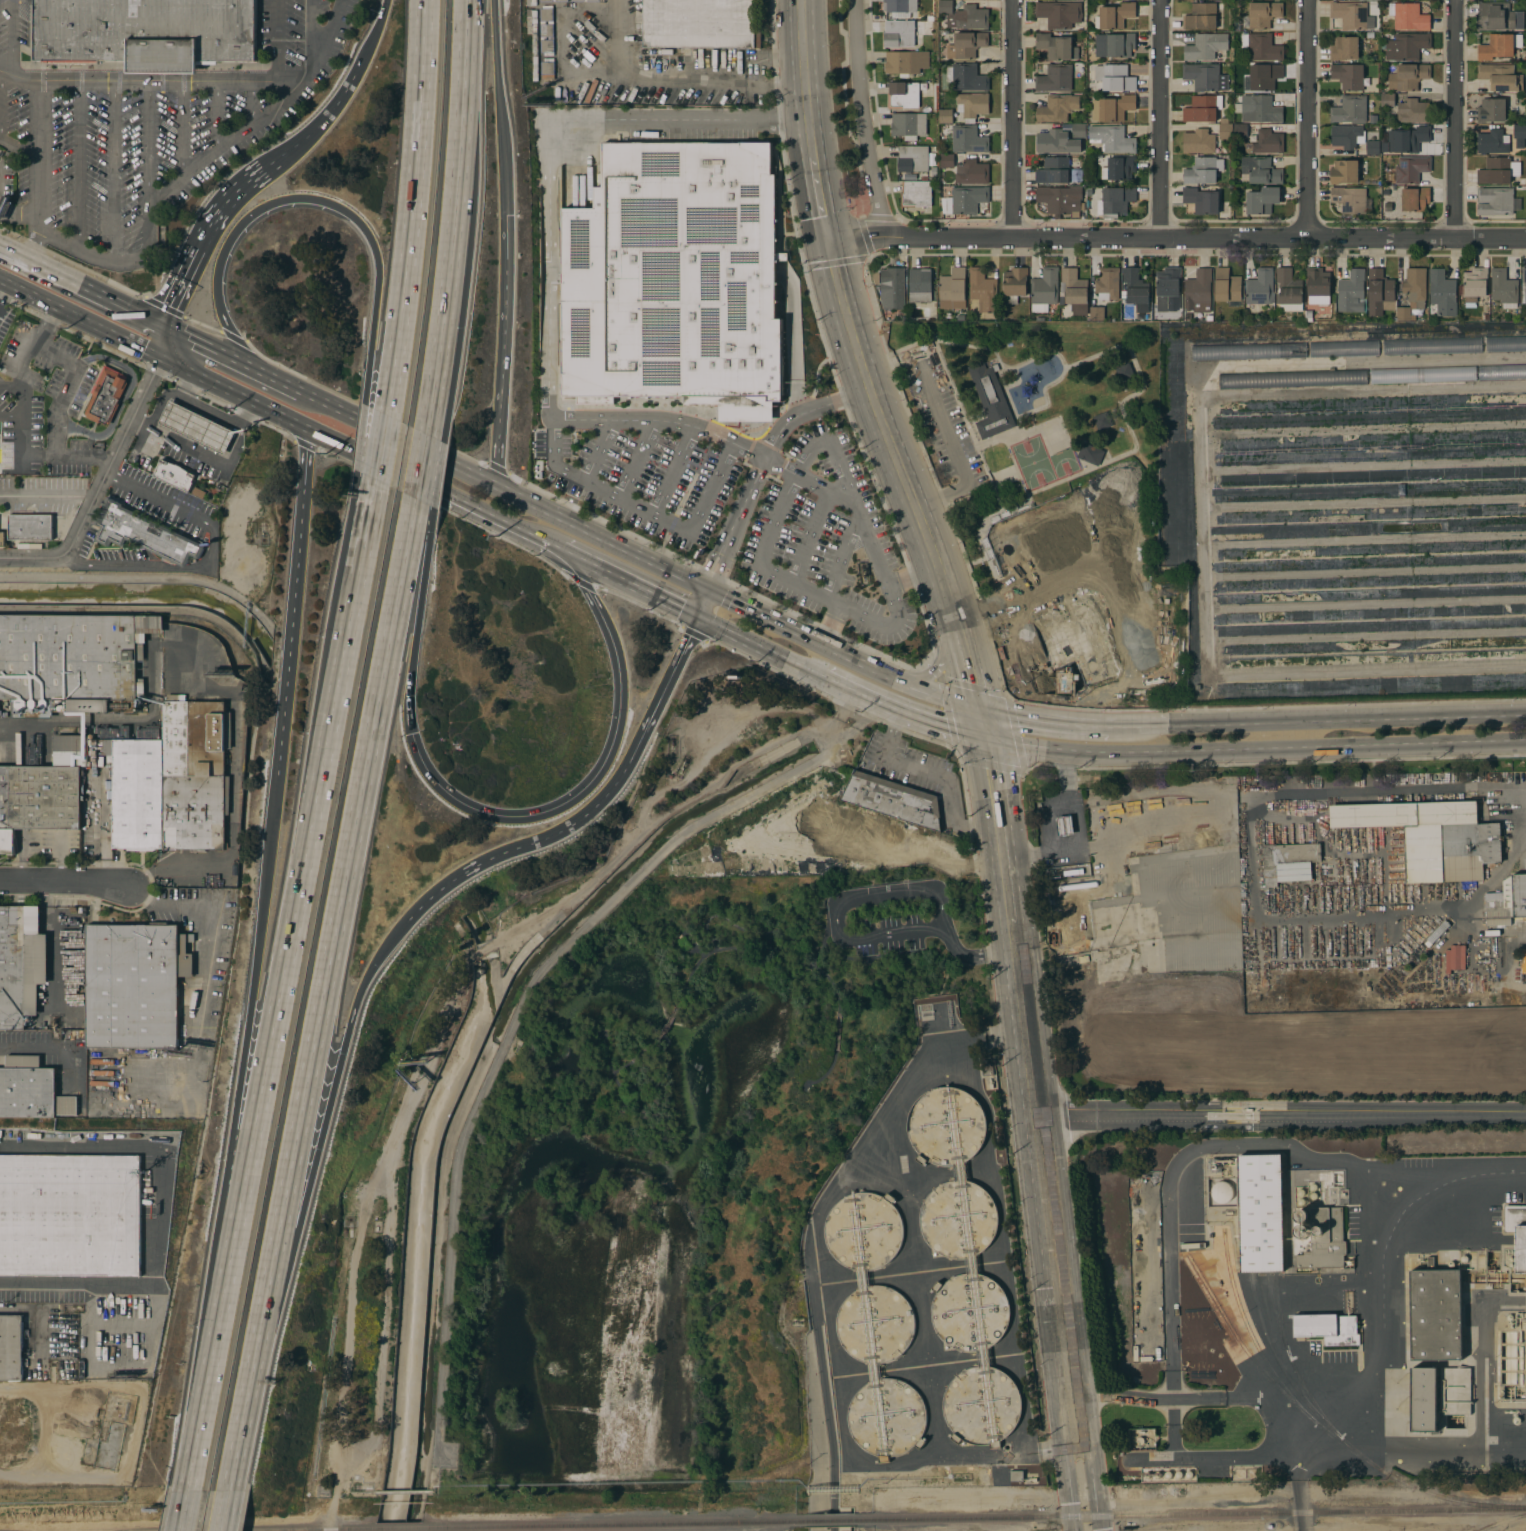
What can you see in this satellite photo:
building: (553, 0)
building: (591, 0)
building: (900, 5)
building: (1059, 13)
building: (1263, 13)
building: (1349, 14)
building: (965, 15)
building: (1115, 15)
building: (1200, 16)
building: (1408, 16)
building: (1495, 16)
building: (698, 23)
road: (310, 29)
building: (546, 30)
building: (145, 32)
building: (902, 32)
road: (12, 37)
road: (372, 39)
road: (277, 41)
road: (328, 42)
building: (966, 44)
building: (1114, 44)
building: (1409, 45)
building: (1499, 45)
building: (1056, 46)
building: (1206, 46)
building: (1261, 46)
building: (1344, 48)
building: (906, 62)
building: (547, 70)
building: (1202, 75)
building: (1348, 75)
building: (1263, 76)
building: (1408, 76)
road: (676, 77)
road: (807, 77)
building: (966, 77)
building: (1055, 77)
building: (1115, 77)
building: (1500, 77)
road: (1, 92)
building: (905, 94)
building: (1387, 99)
road: (253, 105)
building: (972, 105)
road: (499, 107)
building: (1057, 107)
building: (1113, 108)
building: (1201, 108)
building: (1260, 108)
building: (1350, 109)
building: (1412, 110)
building: (1491, 110)
road: (272, 111)
building: (946, 116)
road: (218, 118)
road: (1015, 119)
road: (1162, 119)
road: (1309, 119)
road: (1457, 119)
road: (864, 120)
road: (318, 124)
building: (908, 125)
building: (1225, 129)
building: (1079, 130)
building: (1240, 130)
building: (1520, 131)
road: (182, 132)
road: (544, 136)
building: (1347, 136)
building: (1112, 138)
building: (968, 139)
building: (1410, 139)
building: (1057, 141)
building: (1198, 141)
building: (1265, 141)
building: (1492, 141)
road: (18, 143)
building: (1372, 147)
road: (147, 149)
road: (37, 156)
building: (912, 158)
building: (947, 160)
road: (80, 164)
building: (1119, 168)
building: (1411, 168)
building: (1053, 170)
building: (1260, 170)
building: (1498, 170)
building: (1201, 171)
building: (1344, 171)
road: (114, 172)
building: (972, 172)
road: (244, 184)
building: (915, 193)
road: (823, 196)
road: (308, 199)
building: (965, 199)
building: (1061, 199)
building: (1263, 199)
building: (1350, 199)
building: (1412, 199)
building: (1116, 200)
building: (1202, 200)
building: (1495, 200)
road: (418, 208)
road: (456, 219)
traffic signals: (831, 239)
road: (1178, 239)
road: (188, 266)
building: (675, 279)
building: (1523, 282)
building: (1108, 283)
road: (80, 284)
building: (920, 284)
building: (1015, 284)
building: (1475, 285)
building: (1074, 286)
building: (1167, 286)
building: (1318, 286)
building: (891, 287)
building: (1228, 287)
building: (1260, 287)
building: (953, 288)
building: (1504, 288)
building: (983, 289)
building: (1044, 289)
building: (1136, 289)
building: (1199, 290)
building: (1289, 290)
building: (1352, 291)
building: (1380, 292)
building: (1413, 292)
building: (1442, 292)
building: (1097, 313)
road: (78, 317)
traffic signals: (160, 323)
road: (159, 339)
building: (1506, 343)
road: (31, 345)
building: (1432, 345)
road: (211, 348)
building: (1344, 348)
road: (502, 350)
building: (1249, 351)
traffic signals: (158, 356)
building: (1125, 371)
building: (1502, 371)
road: (443, 373)
building: (1423, 374)
building: (1293, 378)
road: (281, 382)
road: (10, 385)
road: (233, 392)
building: (106, 395)
road: (167, 395)
building: (990, 400)
road: (21, 401)
road: (807, 410)
road: (56, 412)
road: (10, 416)
road: (643, 419)
road: (942, 420)
parking lot: (944, 420)
building: (1102, 420)
road: (885, 422)
building: (197, 426)
road: (367, 438)
road: (397, 438)
road: (385, 449)
road: (597, 450)
road: (21, 451)
building: (1090, 453)
road: (208, 459)
road: (636, 459)
road: (764, 459)
road: (424, 470)
road: (673, 472)
building: (174, 474)
road: (436, 475)
road: (98, 484)
road: (821, 487)
road: (433, 491)
road: (38, 494)
road: (151, 496)
park: (1056, 500)
road: (741, 505)
road: (643, 512)
parking lot: (754, 517)
building: (30, 526)
building: (143, 532)
road: (807, 535)
building: (2, 538)
road: (602, 538)
road: (356, 552)
road: (720, 553)
road: (839, 555)
road: (158, 567)
road: (913, 576)
road: (123, 577)
road: (627, 586)
traffic signals: (712, 592)
road: (697, 594)
road: (704, 606)
road: (292, 614)
traffic signals: (697, 621)
road: (418, 623)
road: (895, 623)
road: (831, 624)
road: (761, 651)
road: (944, 654)
road: (846, 655)
road: (968, 656)
building: (71, 662)
road: (666, 685)
road: (865, 699)
traffic signals: (984, 711)
road: (1347, 720)
road: (1047, 721)
road: (986, 726)
road: (1139, 727)
road: (947, 732)
traffic signals: (413, 737)
traffic signals: (989, 742)
road: (4, 747)
building: (70, 750)
road: (1256, 752)
road: (598, 770)
building: (193, 774)
road: (936, 776)
building: (133, 789)
road: (1392, 790)
building: (38, 799)
building: (893, 799)
building: (1065, 825)
road: (97, 827)
road: (1003, 832)
road: (1079, 836)
building: (1432, 836)
road: (523, 846)
building: (1288, 862)
road: (227, 863)
road: (63, 882)
road: (887, 897)
building: (1507, 901)
parking lot: (886, 920)
road: (210, 929)
road: (890, 932)
road: (336, 945)
road: (488, 950)
road: (972, 956)
building: (1523, 960)
building: (20, 964)
road: (283, 983)
building: (134, 984)
road: (17, 1047)
building: (987, 1068)
building: (31, 1089)
road: (890, 1110)
road: (1282, 1114)
building: (947, 1126)
road: (235, 1141)
road: (1234, 1146)
road: (314, 1154)
building: (1221, 1192)
road: (163, 1207)
building: (1261, 1212)
building: (1301, 1214)
building: (70, 1215)
building: (958, 1215)
road: (1052, 1227)
building: (864, 1230)
building: (1301, 1231)
building: (1517, 1232)
building: (1324, 1239)
wastewater plant: (920, 1282)
wastewater plant: (1311, 1293)
building: (969, 1311)
railway: (1277, 1313)
building: (1435, 1313)
building: (875, 1323)
building: (1327, 1328)
railway: (1253, 1337)
building: (11, 1347)
railway: (1281, 1363)
railway: (1268, 1375)
building: (1456, 1391)
road: (823, 1393)
road: (1246, 1396)
building: (1423, 1398)
building: (981, 1405)
building: (887, 1417)
road: (1173, 1427)
road: (241, 1436)
railway: (1350, 1443)
road: (1379, 1446)
road: (1234, 1455)
building: (1016, 1475)
road: (186, 1508)
road: (226, 1508)
railway: (1192, 1515)
railway: (829, 1520)
railway: (1503, 1522)
railway: (613, 1524)
railway: (401, 1528)
railway: (302, 1529)

